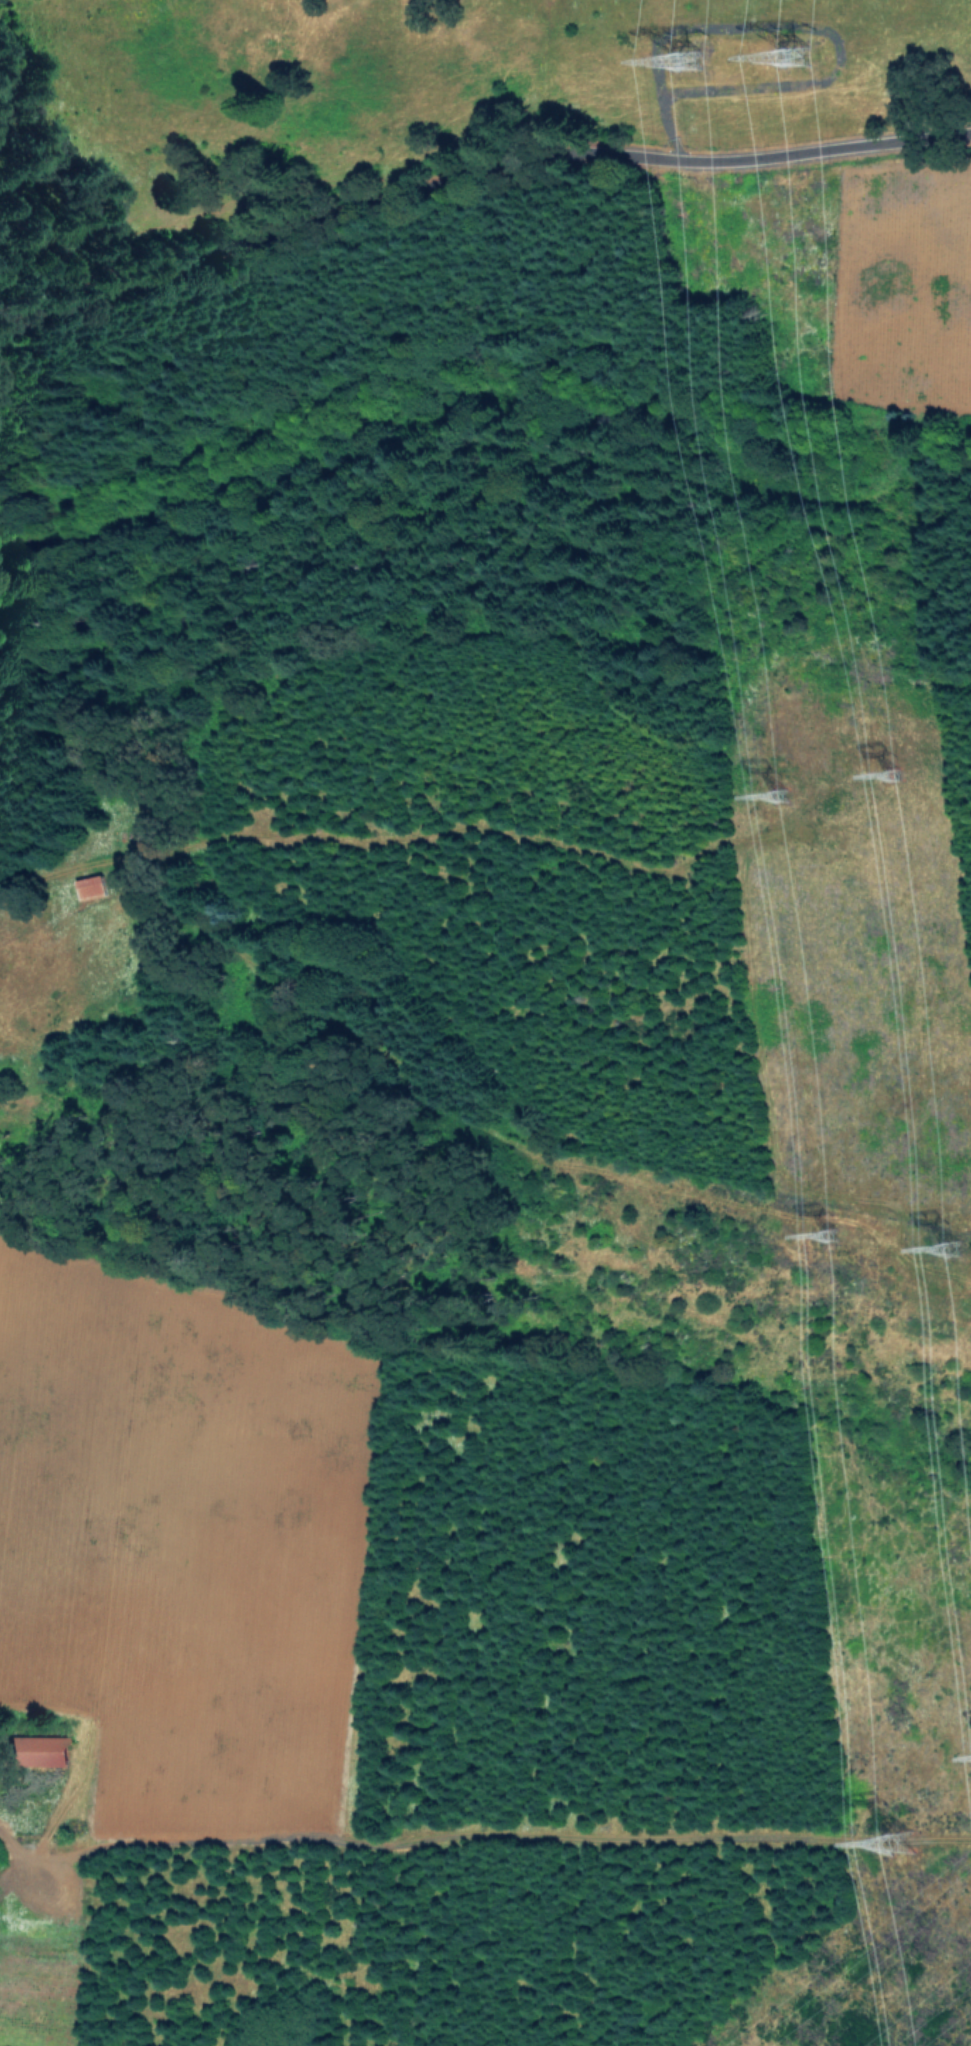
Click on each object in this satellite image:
power tower: (697, 74)
power tower: (806, 75)
road: (472, 172)
road: (440, 640)
power tower: (904, 786)
power tower: (789, 804)
building: (92, 886)
power tower: (843, 1259)
power tower: (964, 1260)
building: (45, 1749)
power tower: (908, 1858)
road: (23, 1867)

